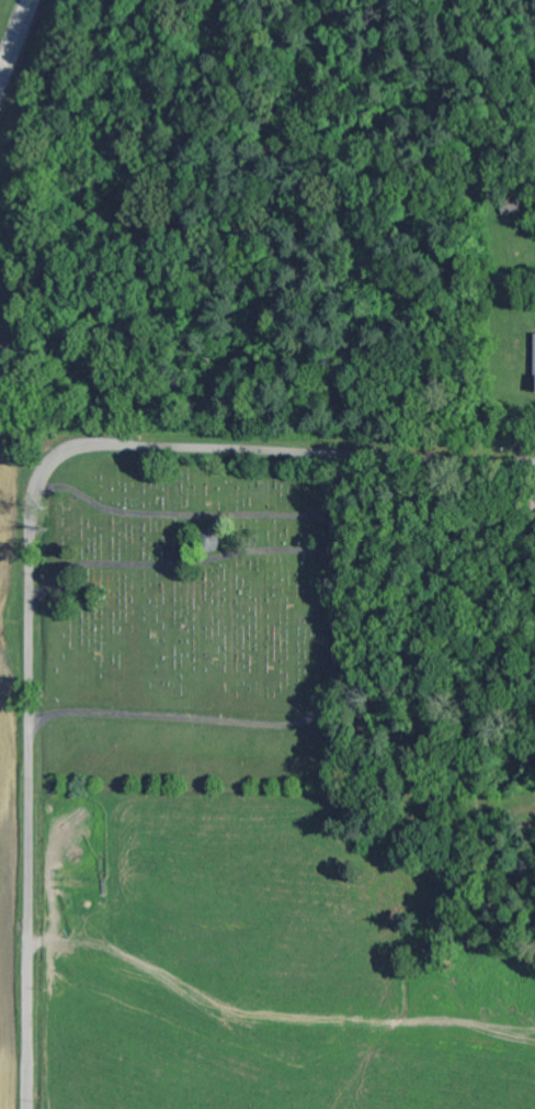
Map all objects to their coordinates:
road: (15, 42)
road: (27, 537)

